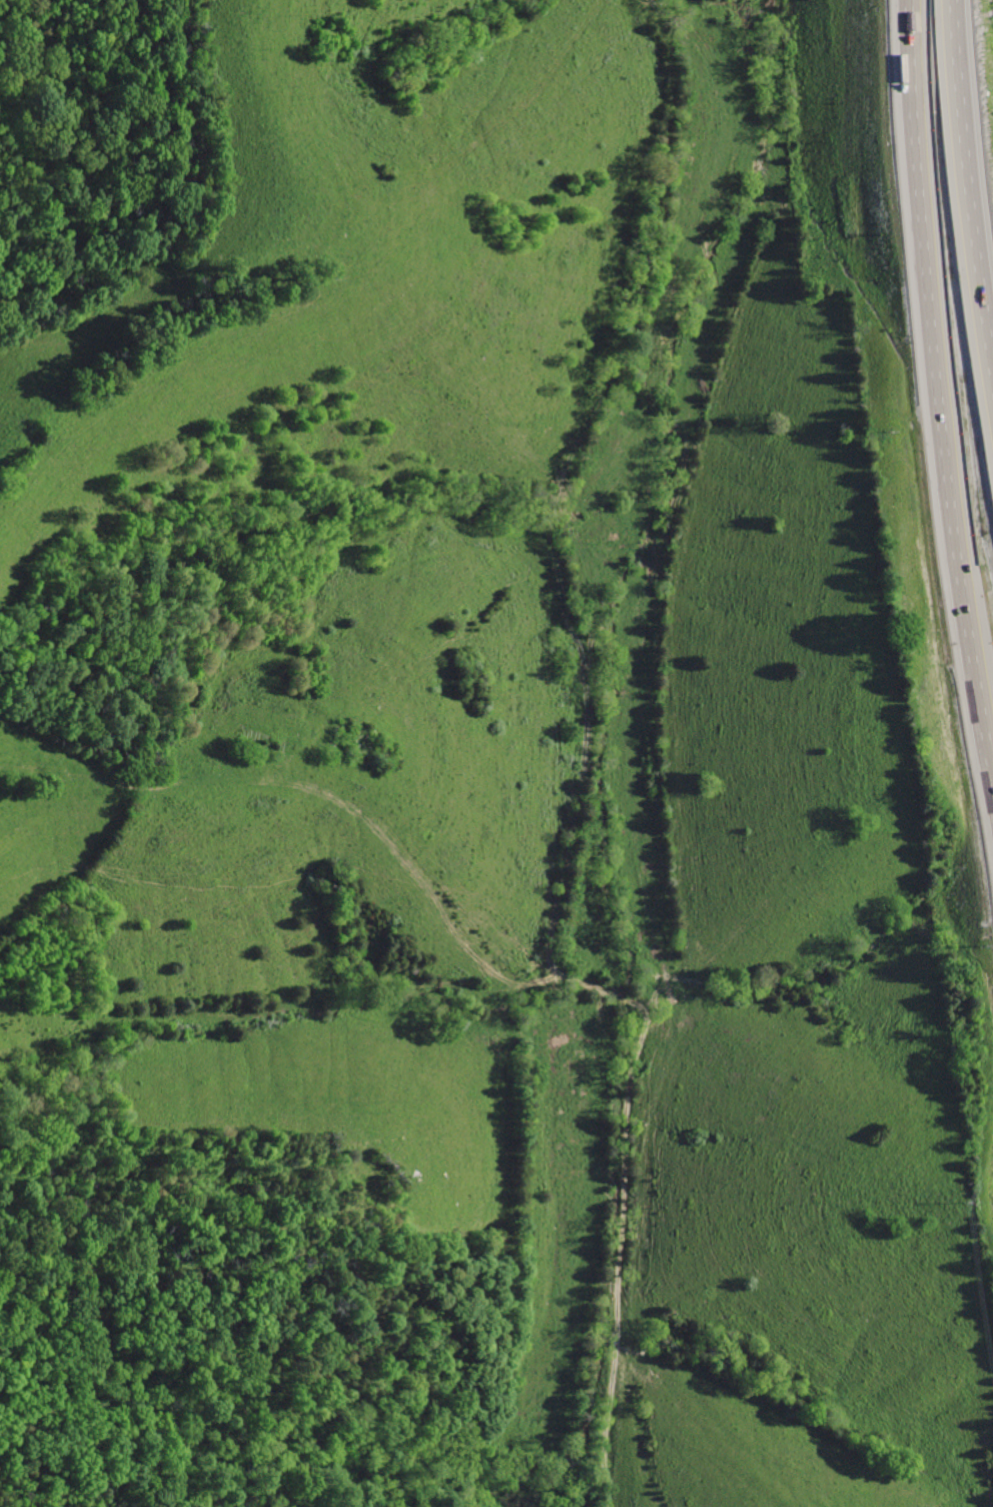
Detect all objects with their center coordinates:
road: (967, 184)
road: (936, 410)
road: (581, 774)

